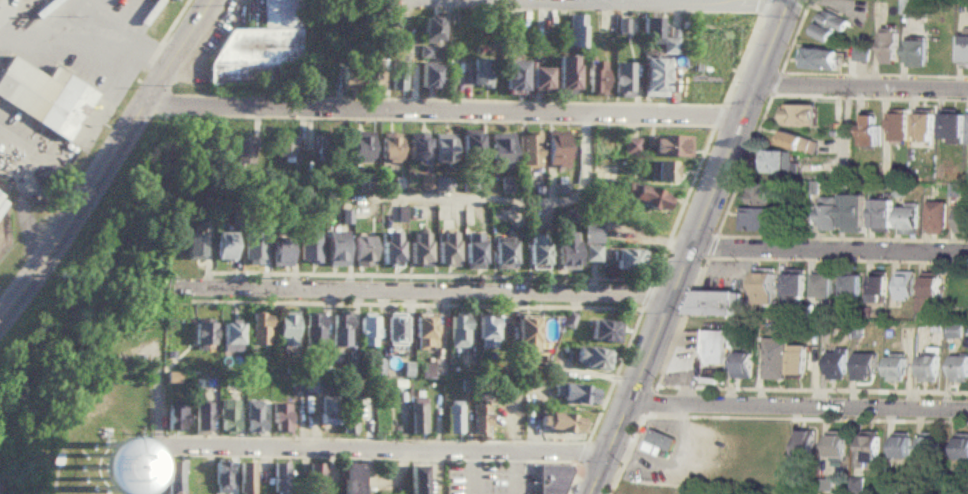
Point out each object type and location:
building: (174, 0)
road: (430, 1)
road: (598, 2)
road: (634, 2)
road: (613, 4)
building: (829, 26)
building: (430, 30)
building: (576, 32)
building: (658, 37)
building: (889, 47)
building: (263, 50)
building: (964, 50)
road: (106, 52)
building: (424, 52)
building: (915, 53)
building: (861, 54)
building: (819, 59)
building: (482, 73)
building: (567, 75)
building: (371, 76)
building: (396, 77)
building: (515, 77)
building: (346, 78)
building: (428, 78)
building: (595, 79)
building: (654, 79)
building: (540, 81)
building: (622, 81)
road: (862, 88)
building: (43, 98)
road: (442, 113)
building: (798, 115)
building: (952, 125)
building: (897, 128)
building: (924, 129)
building: (869, 131)
building: (606, 143)
building: (797, 143)
building: (630, 147)
building: (285, 148)
building: (360, 148)
building: (670, 148)
building: (328, 149)
building: (442, 149)
building: (388, 150)
building: (416, 150)
building: (471, 150)
building: (556, 150)
building: (500, 151)
building: (528, 151)
building: (242, 153)
road: (107, 162)
building: (777, 162)
building: (664, 173)
building: (441, 184)
building: (758, 194)
building: (645, 198)
road: (528, 200)
building: (827, 213)
building: (852, 213)
building: (881, 216)
building: (937, 217)
building: (961, 218)
building: (761, 220)
building: (907, 220)
building: (591, 234)
road: (691, 247)
building: (192, 248)
building: (223, 248)
building: (308, 249)
building: (252, 250)
building: (336, 250)
building: (390, 250)
building: (418, 250)
building: (446, 250)
building: (537, 251)
building: (565, 251)
road: (829, 251)
building: (362, 252)
building: (473, 252)
building: (590, 254)
building: (279, 255)
building: (503, 256)
building: (628, 261)
building: (794, 285)
building: (822, 286)
building: (850, 286)
building: (906, 286)
building: (932, 287)
road: (408, 289)
building: (764, 289)
building: (878, 289)
building: (715, 303)
building: (285, 330)
building: (395, 330)
building: (257, 331)
building: (339, 331)
building: (312, 332)
building: (368, 332)
building: (424, 332)
building: (458, 332)
building: (486, 332)
building: (605, 333)
building: (202, 336)
building: (526, 336)
building: (229, 339)
building: (714, 346)
building: (593, 360)
building: (774, 360)
building: (796, 360)
building: (743, 365)
building: (835, 365)
building: (864, 366)
building: (375, 368)
building: (927, 368)
building: (895, 369)
building: (958, 369)
park: (31, 378)
building: (310, 386)
building: (577, 396)
road: (154, 403)
road: (797, 408)
building: (327, 412)
building: (347, 416)
building: (199, 417)
building: (225, 418)
building: (251, 418)
building: (172, 419)
building: (279, 419)
building: (417, 420)
building: (453, 421)
building: (479, 421)
building: (562, 425)
building: (660, 438)
building: (805, 441)
building: (836, 444)
building: (901, 445)
building: (930, 445)
building: (961, 446)
building: (869, 449)
road: (388, 450)
road: (161, 468)
building: (100, 472)
water tower: (100, 476)
building: (174, 477)
building: (220, 477)
building: (245, 477)
building: (279, 478)
building: (315, 478)
building: (351, 478)
building: (550, 478)
building: (417, 479)
building: (648, 488)
building: (850, 492)

